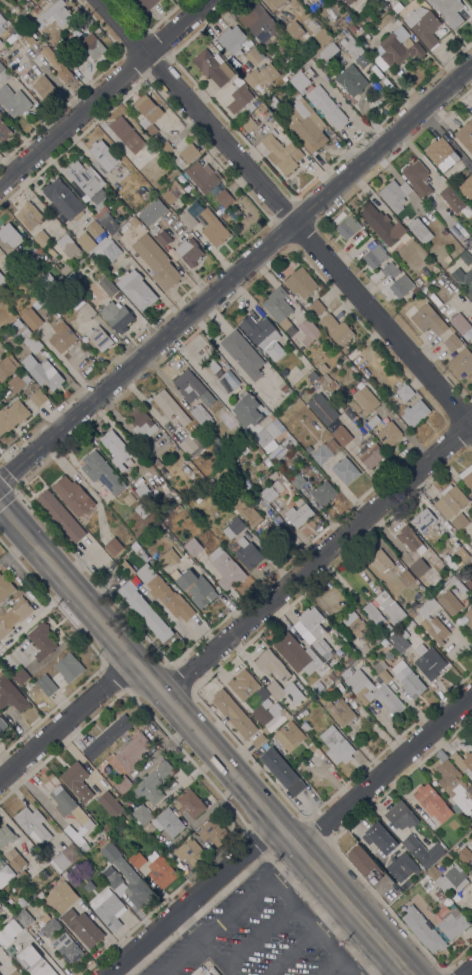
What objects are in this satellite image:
building: (304, 0)
building: (349, 1)
building: (386, 1)
building: (41, 3)
building: (279, 3)
building: (143, 5)
building: (397, 7)
building: (35, 9)
building: (448, 11)
building: (367, 14)
building: (53, 16)
building: (1, 24)
building: (260, 24)
building: (423, 26)
building: (20, 27)
building: (352, 28)
building: (295, 30)
building: (27, 32)
building: (12, 37)
building: (322, 37)
building: (232, 40)
building: (0, 41)
building: (92, 46)
building: (397, 48)
building: (353, 49)
building: (253, 51)
building: (327, 52)
building: (65, 60)
building: (56, 64)
building: (213, 67)
building: (3, 74)
building: (262, 79)
building: (351, 80)
building: (299, 81)
building: (43, 86)
road: (104, 91)
building: (295, 93)
building: (239, 98)
building: (13, 101)
building: (326, 106)
building: (147, 112)
building: (1, 114)
building: (272, 122)
building: (306, 123)
building: (248, 124)
building: (4, 131)
building: (126, 134)
building: (465, 134)
building: (156, 139)
building: (151, 147)
building: (166, 147)
building: (190, 152)
building: (282, 153)
building: (441, 154)
building: (102, 157)
building: (179, 162)
building: (203, 177)
building: (181, 178)
building: (418, 179)
building: (87, 181)
building: (466, 187)
building: (172, 192)
building: (145, 194)
building: (394, 194)
building: (223, 197)
building: (63, 198)
building: (454, 200)
building: (152, 211)
road: (285, 213)
building: (29, 216)
building: (226, 216)
building: (187, 219)
building: (106, 220)
building: (133, 221)
building: (381, 224)
building: (348, 227)
building: (94, 228)
building: (455, 228)
building: (420, 230)
building: (215, 231)
building: (363, 232)
building: (443, 232)
building: (9, 234)
building: (160, 235)
building: (41, 238)
building: (86, 242)
building: (68, 245)
building: (29, 249)
building: (111, 251)
building: (189, 252)
building: (374, 256)
building: (467, 256)
building: (447, 259)
building: (162, 267)
building: (285, 268)
building: (390, 269)
road: (236, 273)
building: (2, 280)
building: (464, 280)
building: (47, 281)
building: (300, 283)
building: (400, 286)
building: (107, 287)
building: (136, 290)
building: (414, 290)
building: (1, 299)
building: (38, 302)
building: (278, 307)
building: (315, 307)
building: (86, 309)
building: (116, 316)
building: (31, 319)
building: (427, 319)
building: (14, 324)
building: (461, 325)
building: (336, 329)
building: (308, 330)
building: (260, 332)
building: (471, 336)
building: (62, 337)
building: (99, 338)
building: (31, 341)
building: (453, 342)
building: (471, 345)
building: (471, 346)
building: (243, 354)
building: (461, 362)
building: (7, 367)
building: (322, 367)
building: (42, 372)
building: (313, 375)
building: (321, 381)
building: (17, 382)
building: (334, 385)
building: (283, 387)
building: (192, 388)
building: (405, 391)
building: (66, 393)
building: (38, 397)
building: (366, 399)
building: (170, 406)
building: (323, 409)
building: (248, 410)
building: (349, 413)
building: (415, 413)
building: (200, 415)
building: (12, 416)
building: (373, 421)
building: (141, 422)
building: (389, 434)
building: (269, 435)
building: (342, 435)
building: (191, 446)
building: (298, 448)
building: (116, 449)
building: (281, 449)
building: (309, 449)
building: (324, 451)
building: (371, 455)
building: (236, 456)
building: (265, 458)
building: (185, 460)
building: (345, 470)
building: (102, 472)
building: (226, 472)
building: (467, 476)
building: (297, 479)
building: (283, 482)
building: (144, 493)
building: (268, 493)
building: (323, 493)
building: (73, 496)
building: (450, 501)
building: (141, 510)
building: (245, 510)
building: (299, 514)
building: (470, 514)
building: (60, 516)
building: (423, 520)
road: (15, 522)
building: (460, 522)
building: (233, 528)
building: (428, 534)
building: (410, 539)
building: (113, 546)
building: (193, 546)
building: (247, 553)
building: (463, 553)
building: (167, 558)
road: (319, 560)
building: (379, 560)
building: (419, 567)
building: (128, 568)
building: (226, 568)
building: (405, 578)
building: (468, 583)
building: (5, 587)
building: (195, 587)
building: (165, 593)
building: (451, 597)
building: (427, 606)
building: (390, 608)
building: (145, 611)
building: (373, 614)
building: (14, 615)
building: (464, 619)
building: (312, 621)
building: (354, 624)
building: (435, 629)
building: (385, 632)
building: (42, 640)
building: (399, 640)
building: (425, 640)
building: (371, 643)
building: (323, 648)
building: (296, 653)
building: (350, 659)
building: (429, 661)
building: (271, 664)
building: (69, 667)
building: (382, 671)
building: (21, 676)
building: (331, 676)
building: (408, 679)
building: (46, 684)
building: (243, 684)
building: (317, 686)
building: (369, 688)
building: (284, 691)
building: (11, 694)
building: (266, 703)
road: (63, 706)
building: (274, 709)
building: (339, 711)
building: (234, 713)
building: (299, 715)
building: (276, 721)
building: (2, 725)
building: (304, 726)
building: (264, 731)
building: (107, 737)
building: (289, 737)
building: (258, 740)
building: (336, 745)
building: (312, 747)
building: (130, 754)
road: (220, 757)
building: (463, 762)
building: (282, 771)
road: (387, 772)
building: (77, 780)
building: (153, 783)
building: (123, 785)
building: (455, 788)
building: (189, 803)
building: (432, 803)
building: (109, 804)
building: (142, 814)
building: (401, 815)
building: (84, 821)
building: (165, 823)
building: (32, 825)
building: (107, 827)
building: (214, 831)
building: (6, 836)
building: (381, 838)
building: (410, 842)
building: (440, 845)
building: (191, 851)
building: (464, 854)
building: (431, 855)
building: (64, 858)
building: (444, 858)
building: (137, 859)
building: (17, 862)
building: (364, 863)
building: (401, 865)
building: (161, 869)
building: (5, 875)
building: (111, 875)
building: (471, 876)
building: (448, 877)
building: (404, 885)
building: (37, 887)
road: (252, 896)
building: (61, 897)
road: (191, 898)
building: (108, 909)
building: (4, 915)
building: (24, 918)
building: (49, 925)
building: (453, 926)
building: (83, 927)
building: (423, 930)
building: (9, 932)
road: (310, 940)
road: (200, 945)
building: (67, 948)
road: (216, 959)
building: (31, 961)
building: (61, 964)
road: (385, 966)
road: (465, 969)
building: (205, 971)
building: (15, 973)

